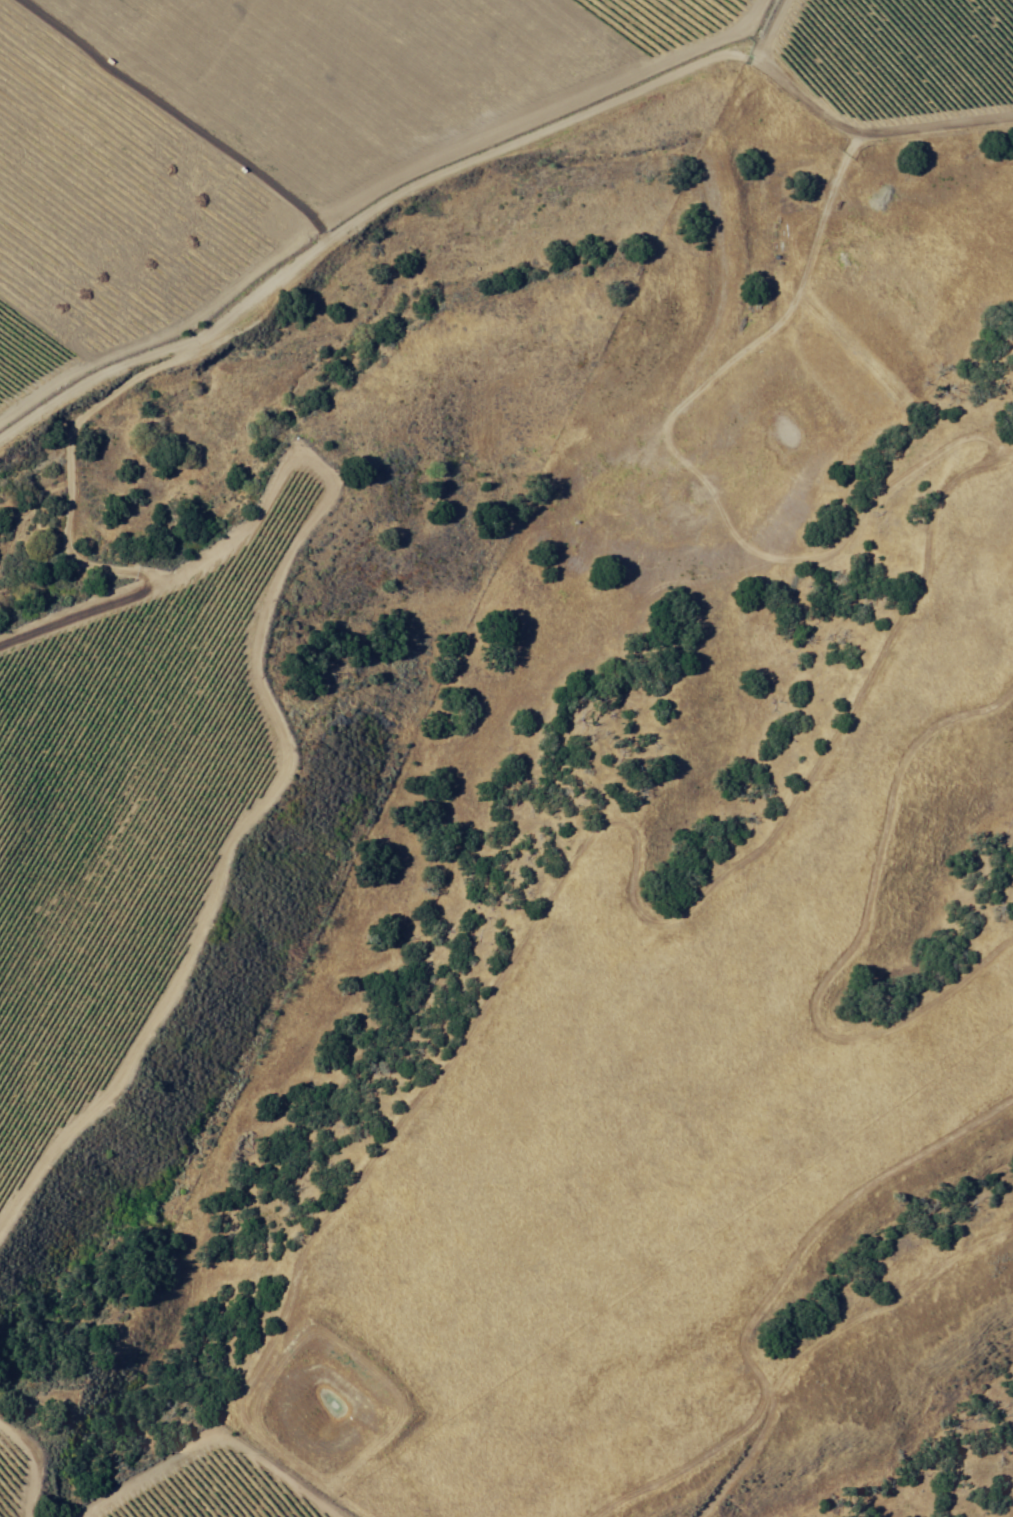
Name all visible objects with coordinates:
crop: (346, 121)
road: (493, 149)
crop: (128, 784)
crop: (195, 1479)

